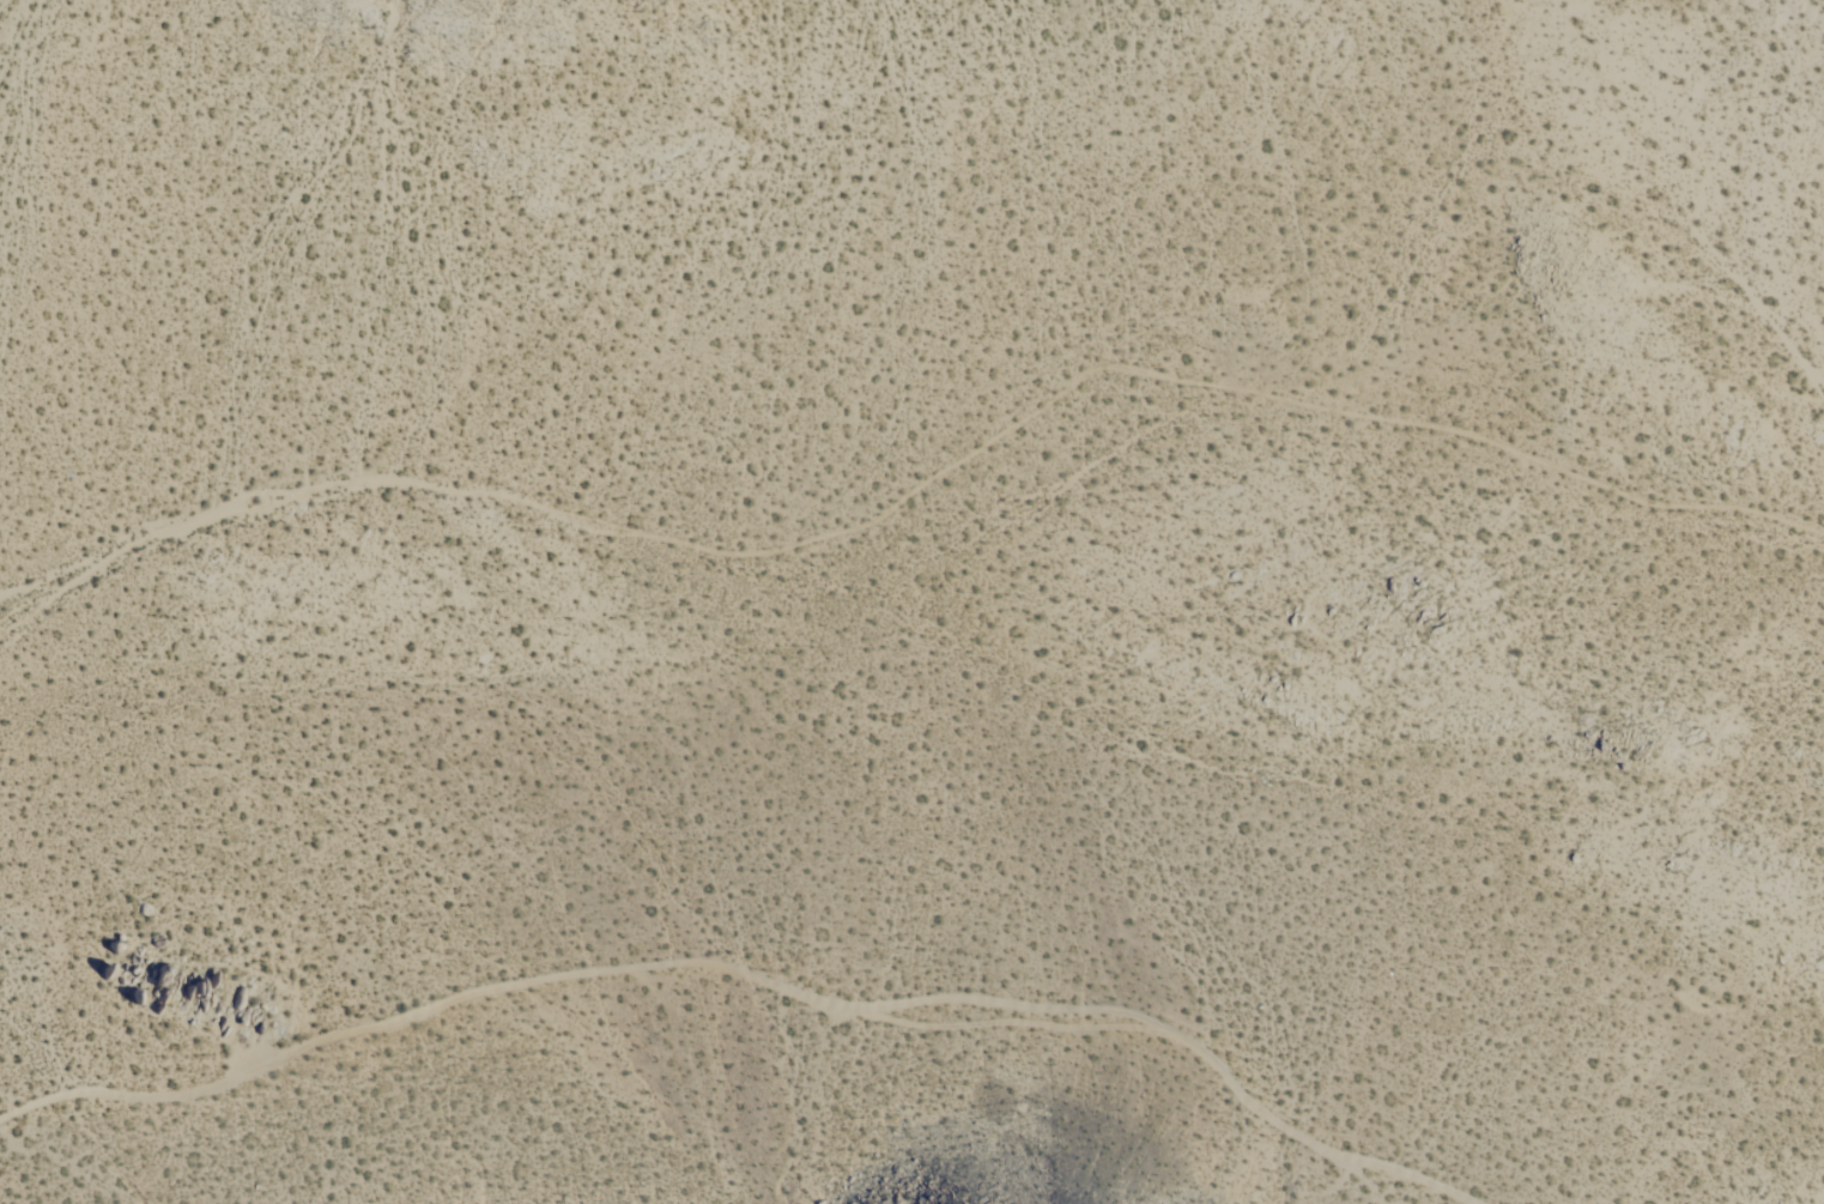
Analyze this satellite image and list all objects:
road: (788, 982)

